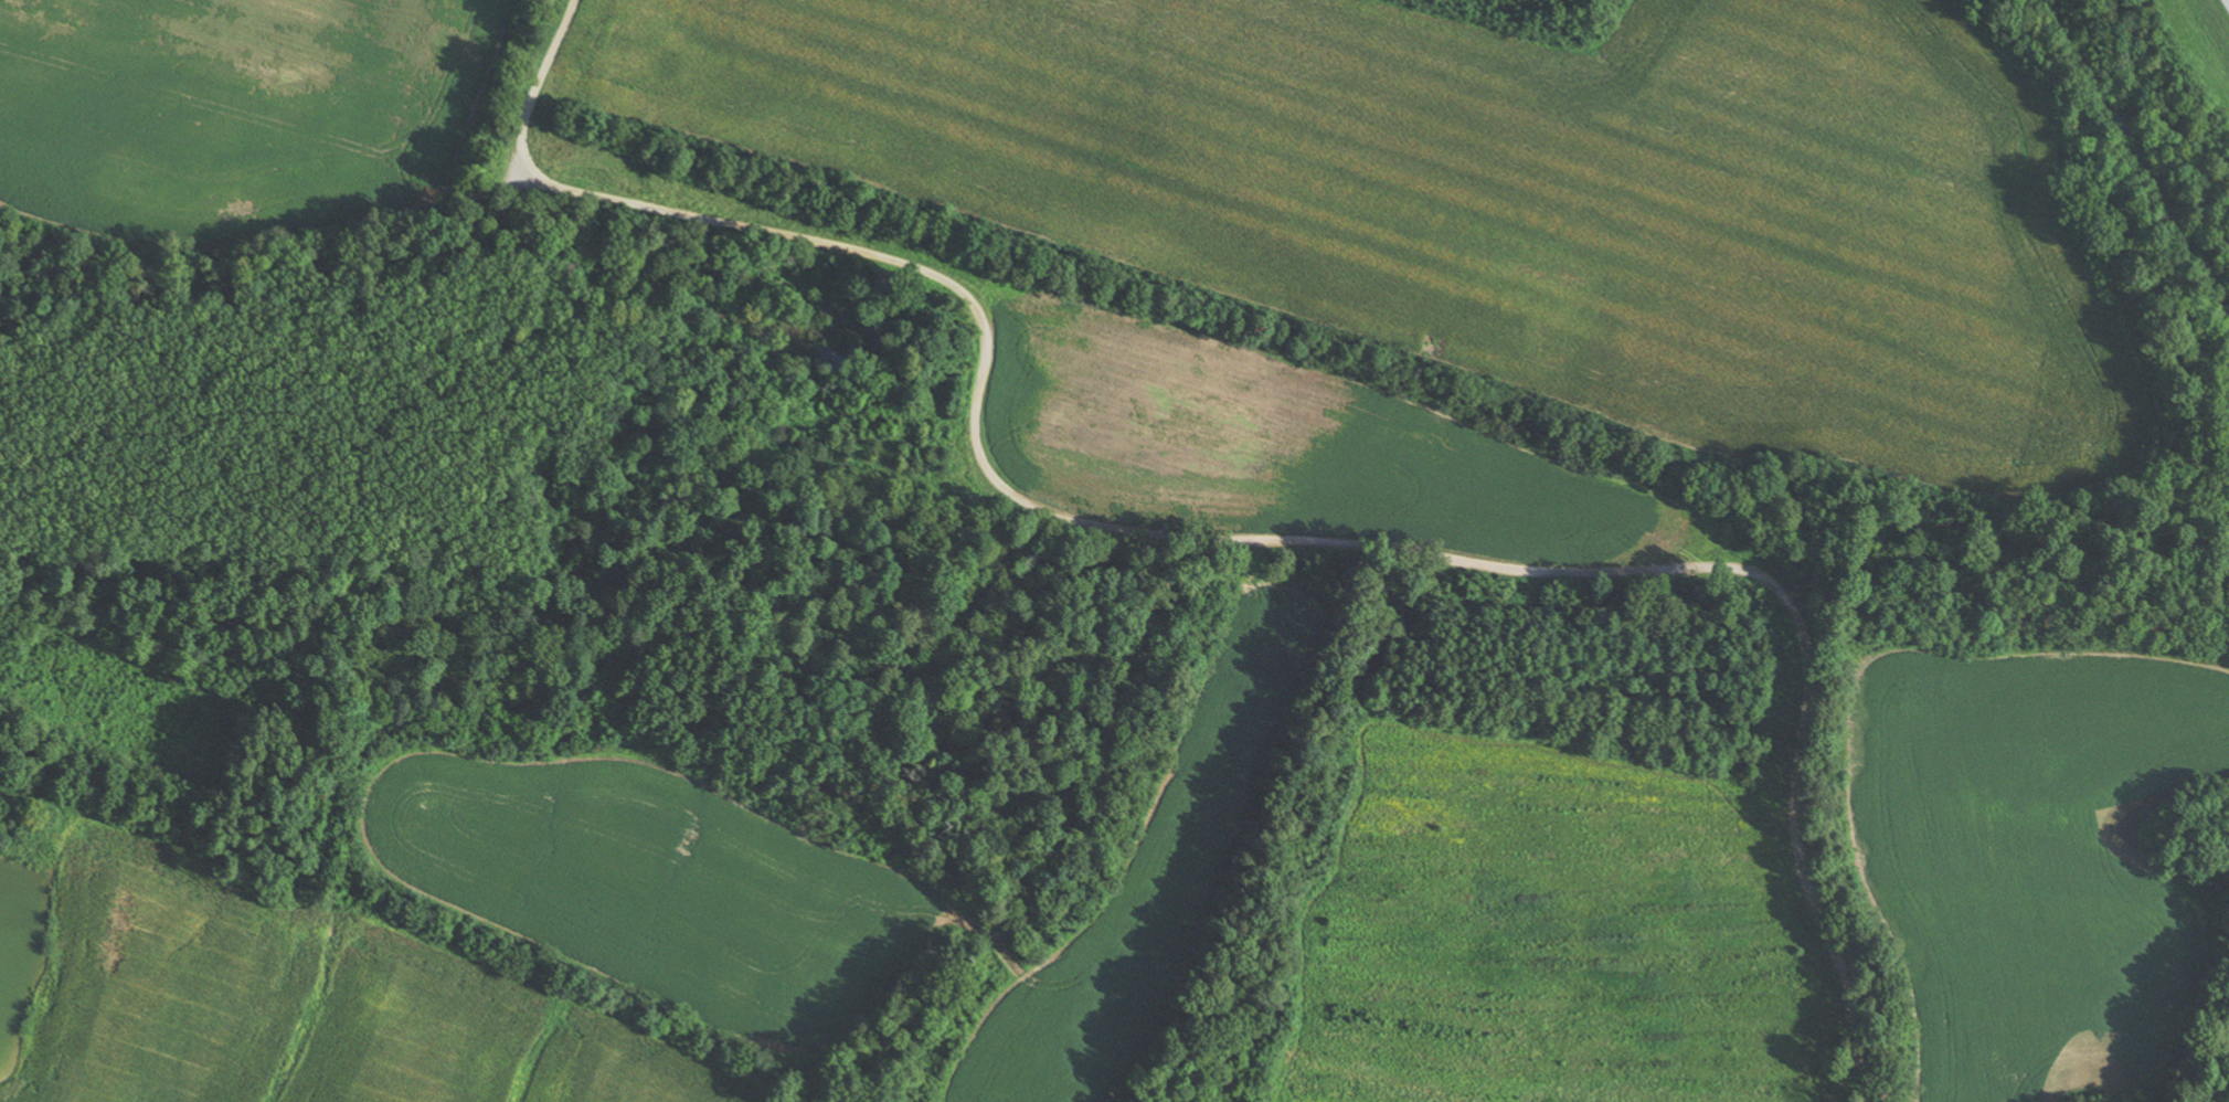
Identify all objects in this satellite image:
road: (2225, 6)

